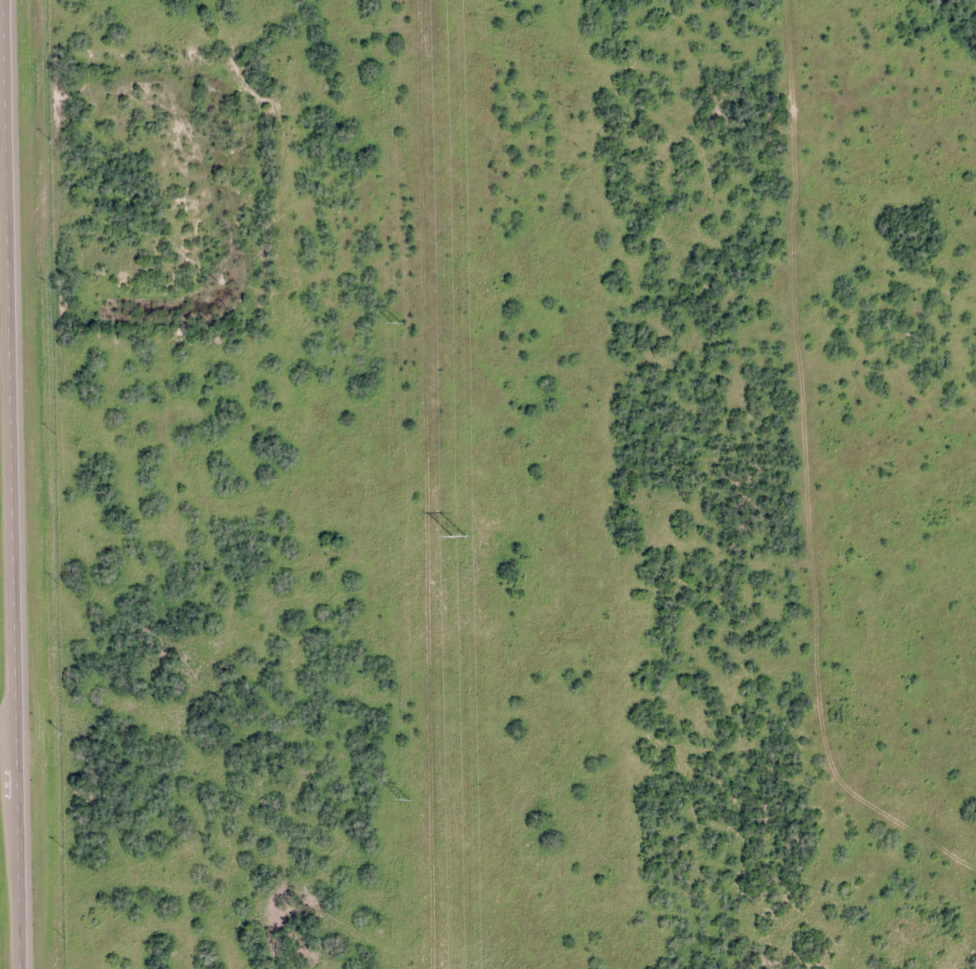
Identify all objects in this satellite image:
power tower: (395, 324)
road: (15, 484)
power tower: (455, 538)
road: (9, 732)
power tower: (405, 801)

